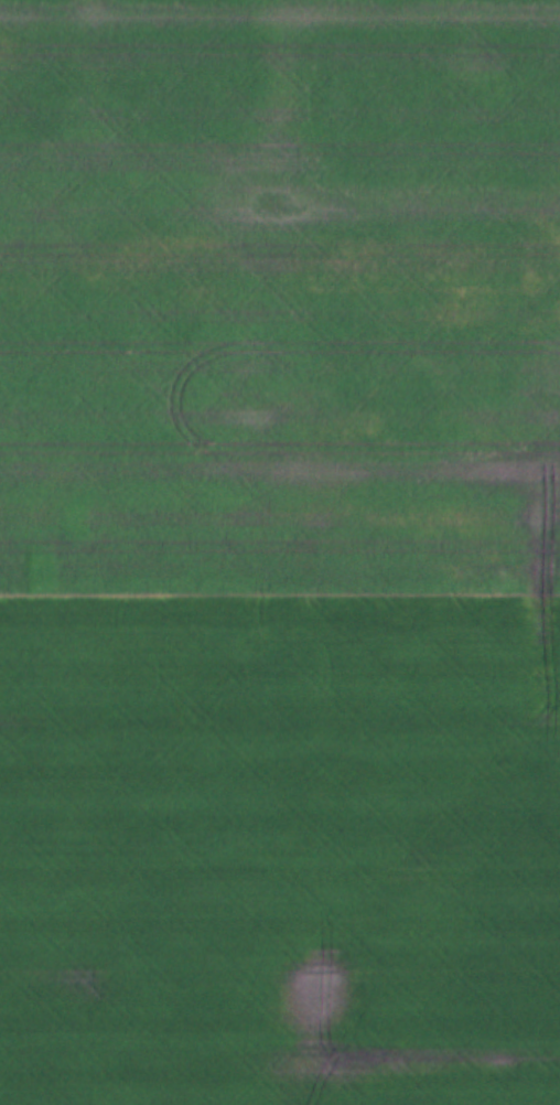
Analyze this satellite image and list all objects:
crop: (280, 296)
crop: (279, 848)

